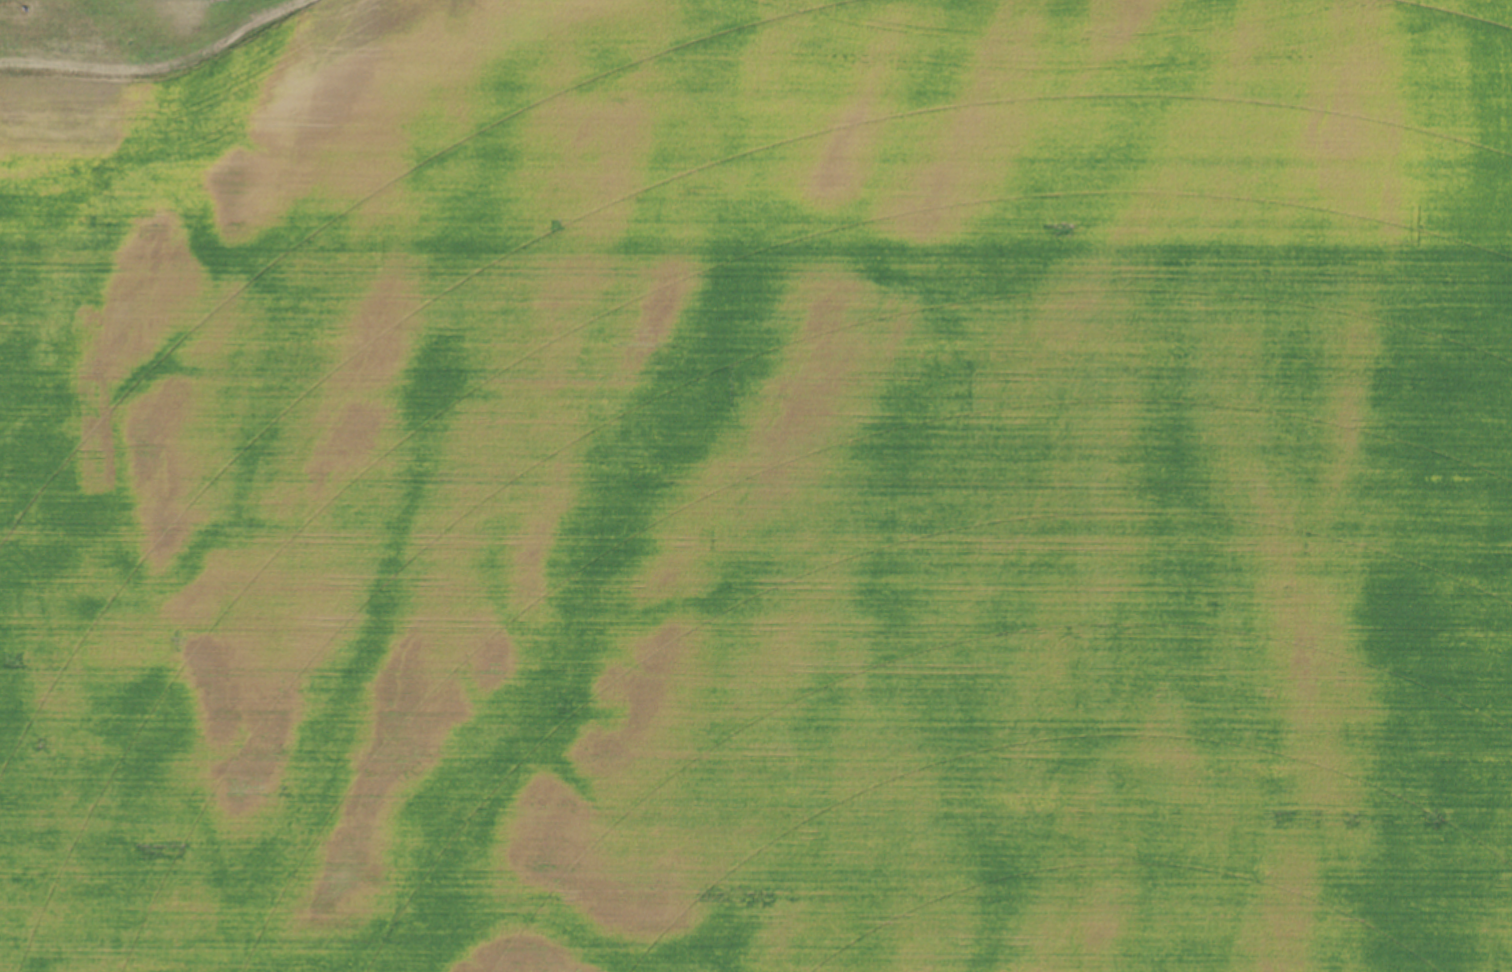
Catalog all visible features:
crop: (756, 486)

